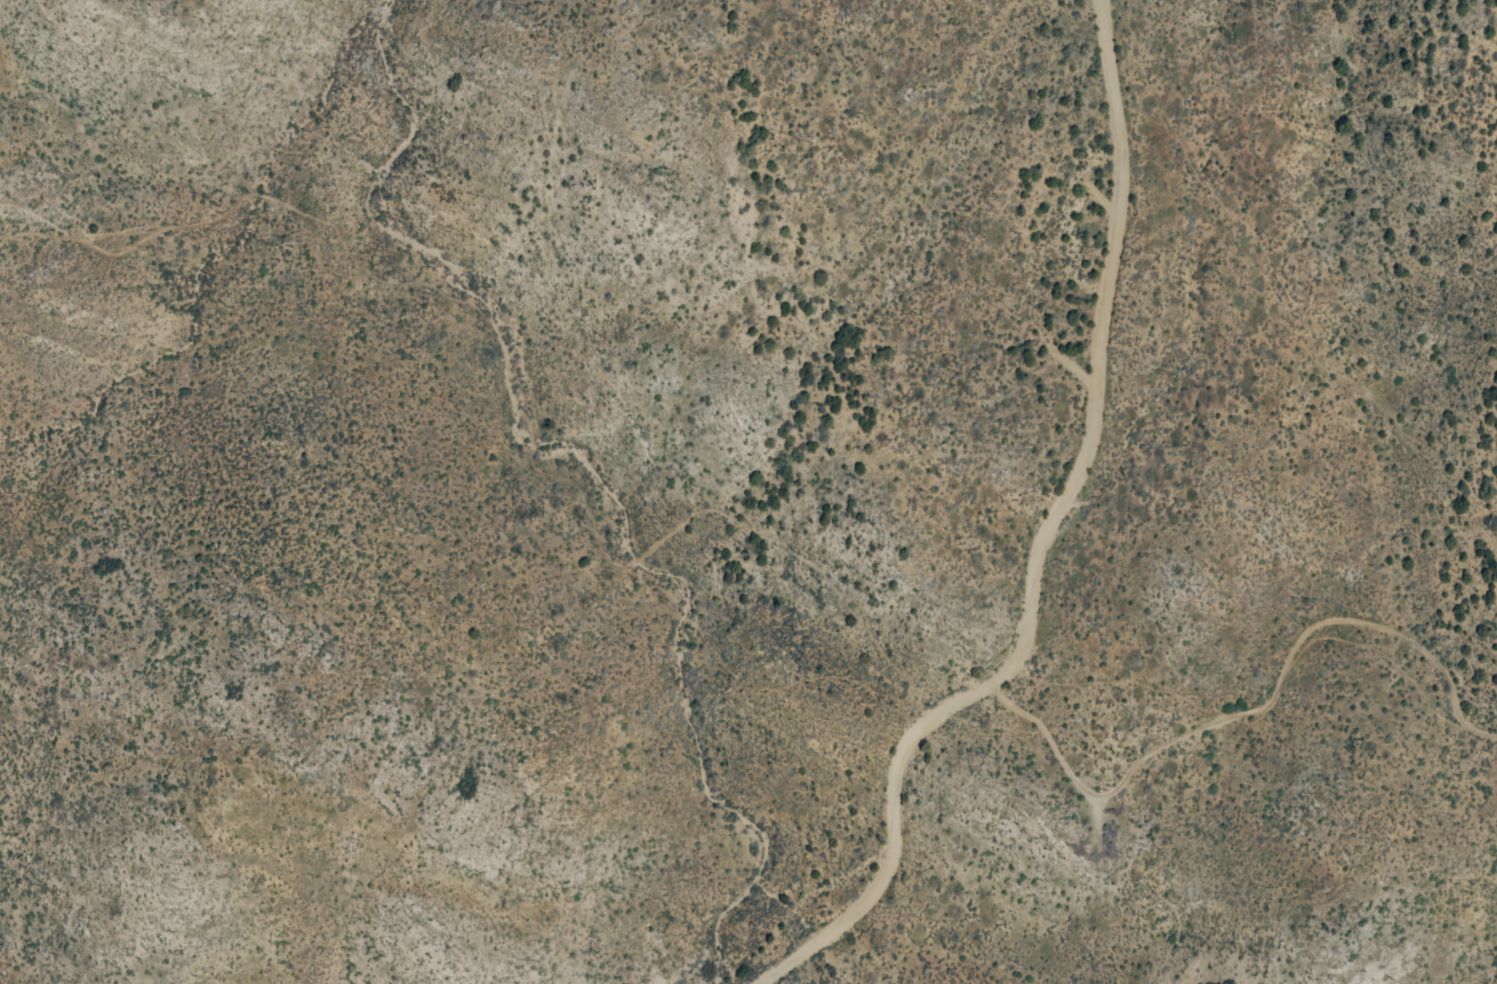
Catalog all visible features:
road: (1064, 538)
road: (1057, 749)

